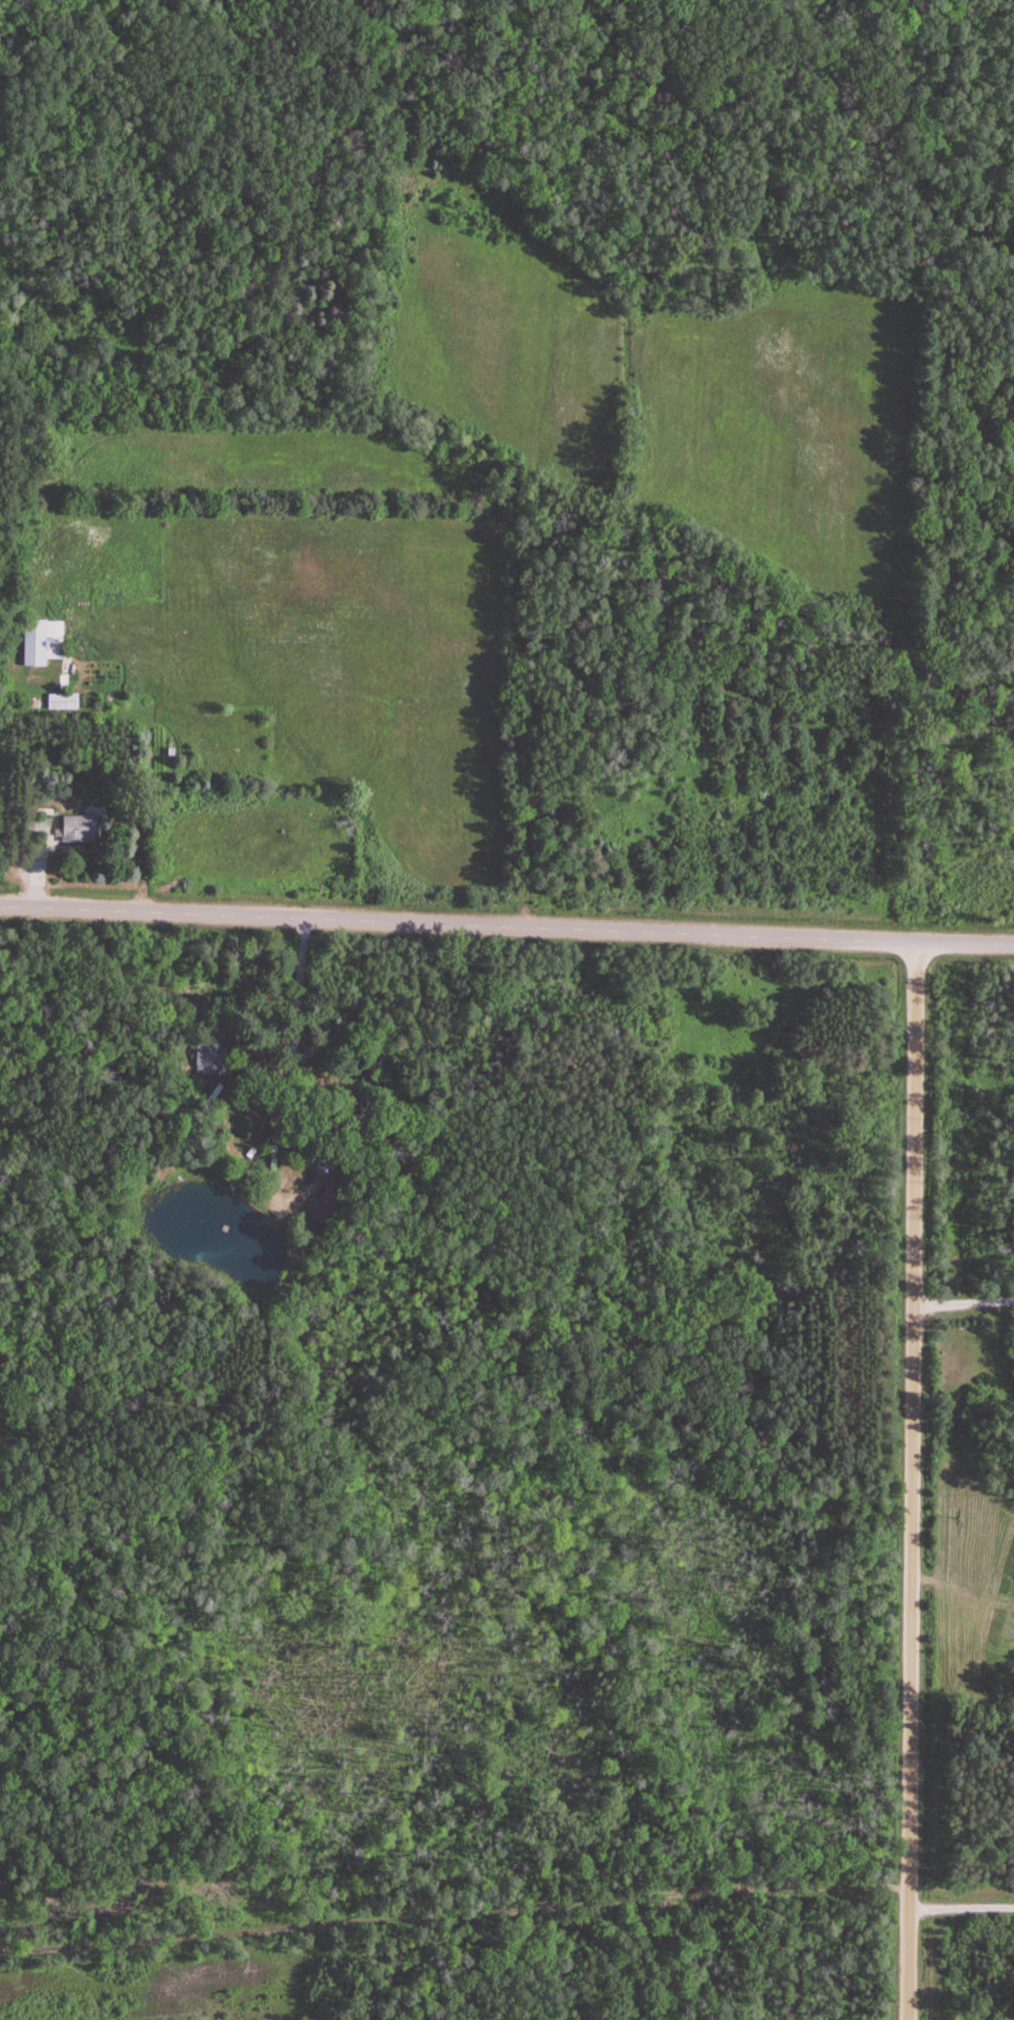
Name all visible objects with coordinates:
building: (37, 641)
building: (63, 701)
building: (33, 825)
building: (73, 828)
road: (506, 925)
building: (208, 1054)
road: (910, 1480)
road: (958, 1903)

